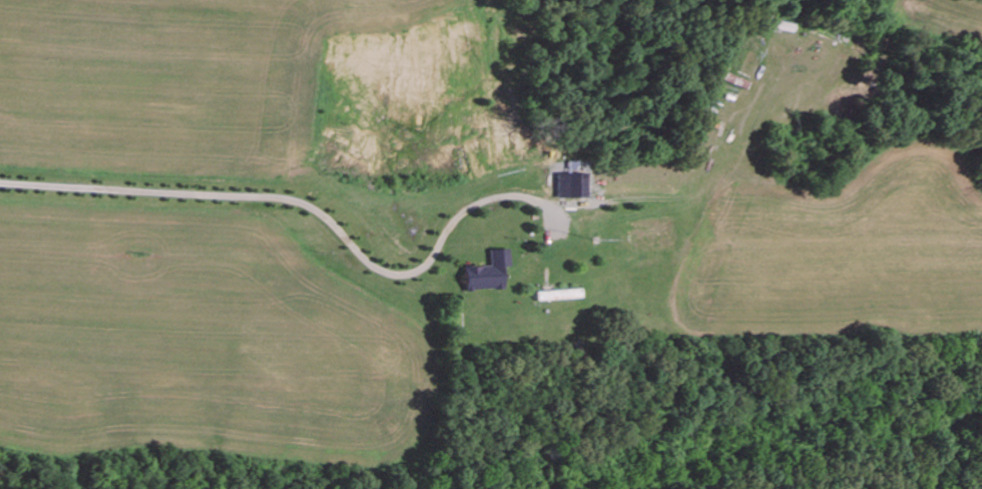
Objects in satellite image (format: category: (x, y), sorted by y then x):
building: (574, 184)
building: (490, 271)

